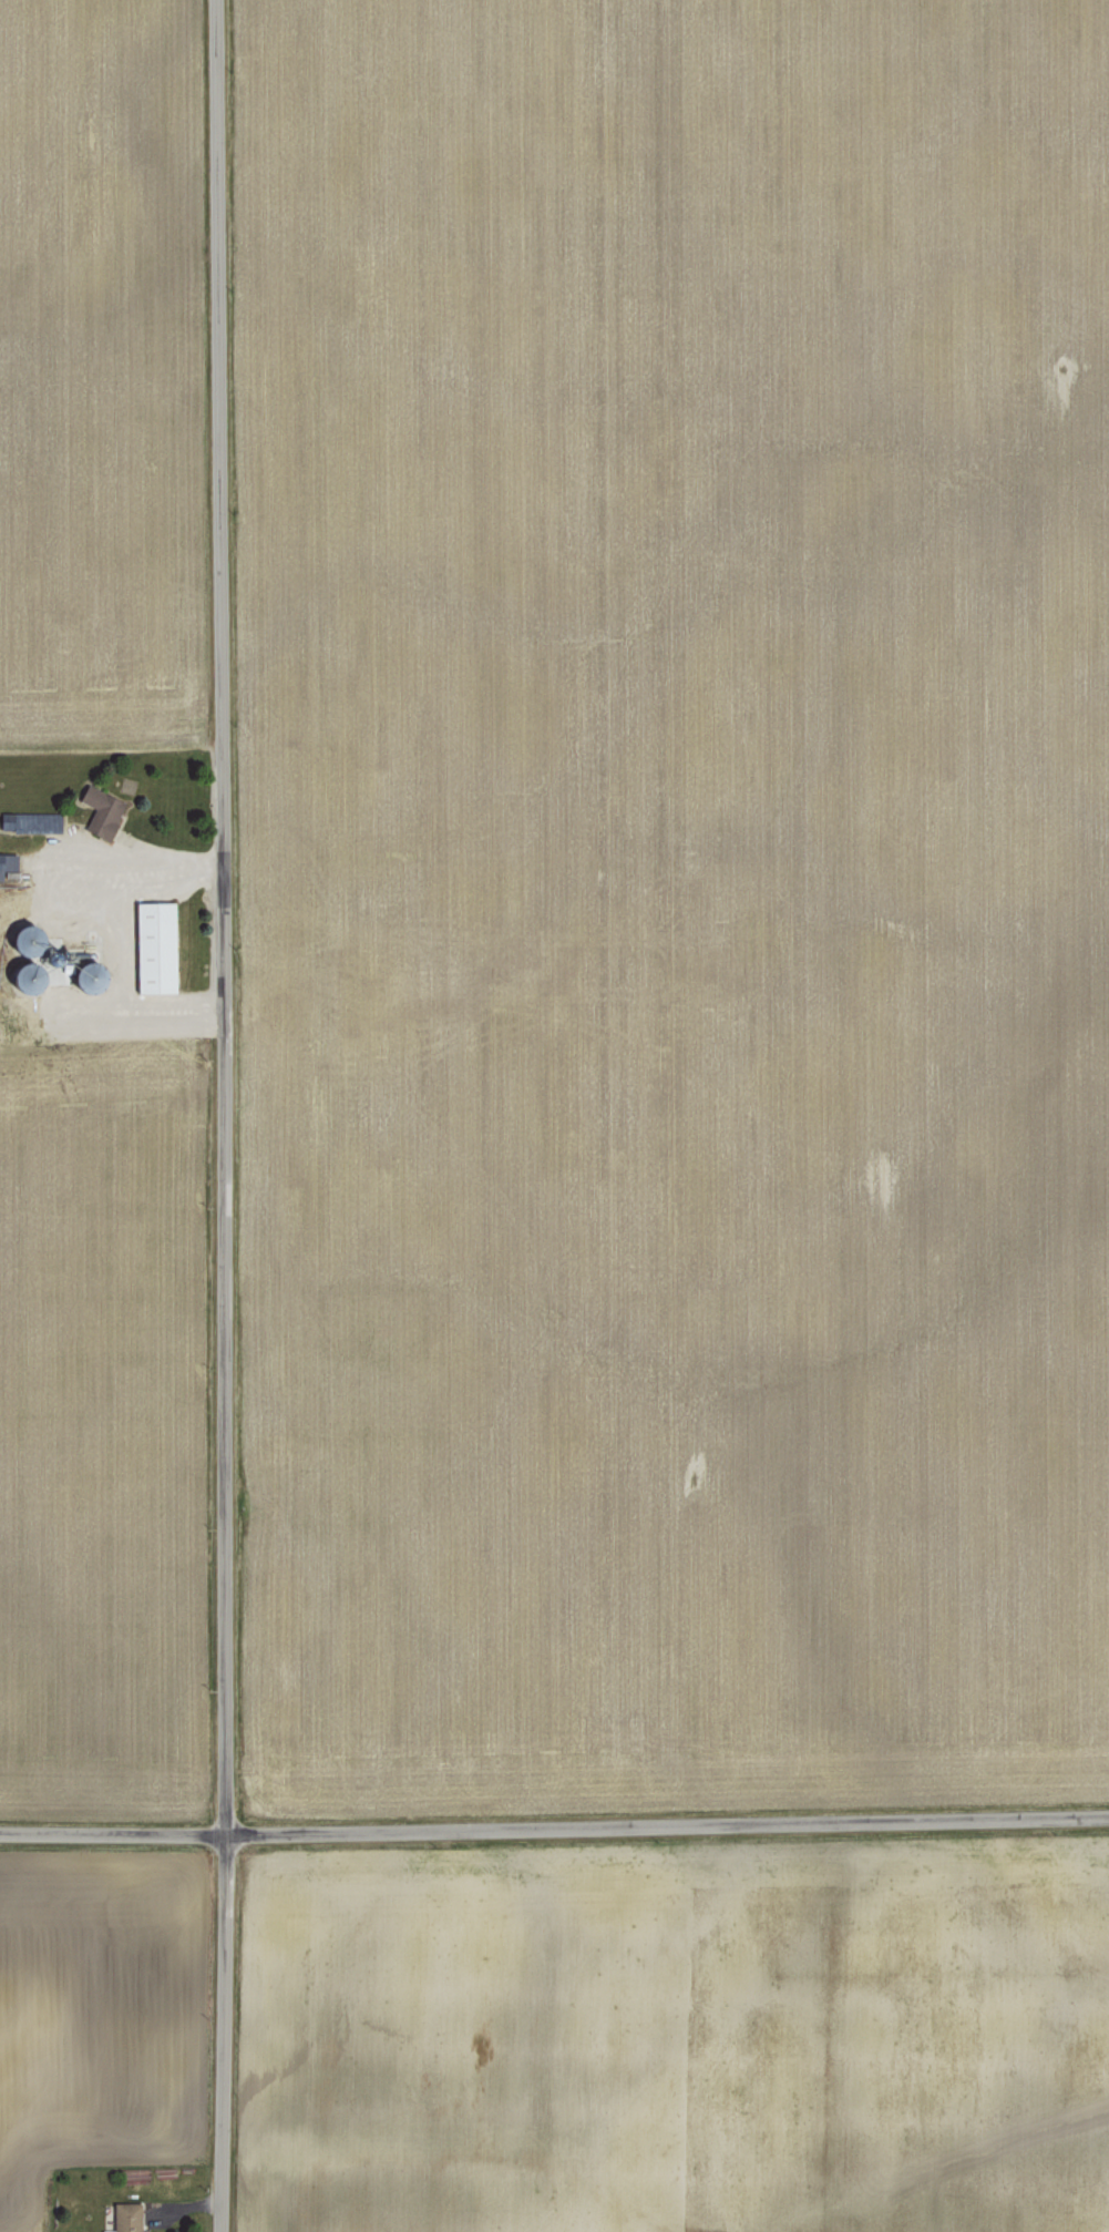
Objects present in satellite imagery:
building: (100, 806)
road: (63, 934)
building: (153, 945)
road: (219, 1116)
road: (554, 1826)
building: (123, 2209)
building: (106, 2230)
building: (131, 2230)

